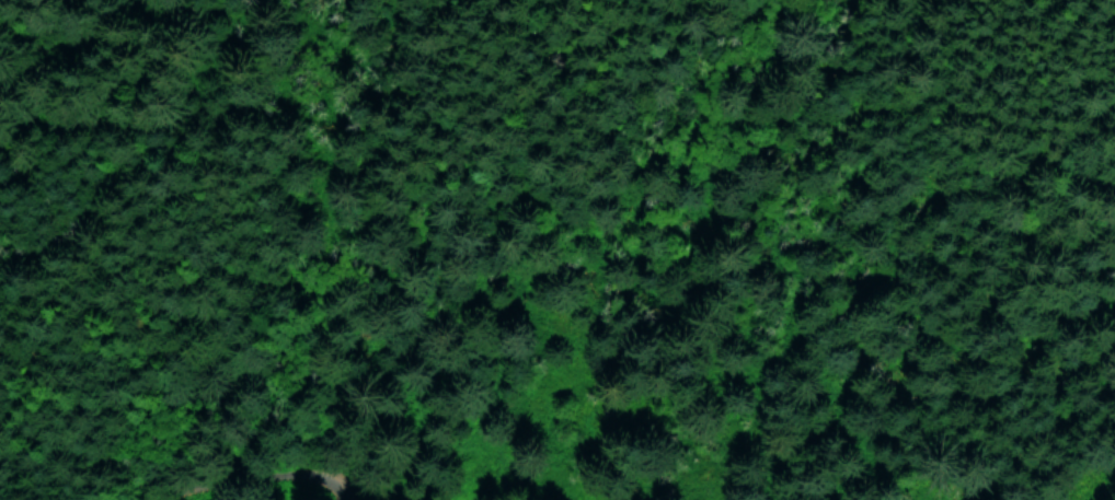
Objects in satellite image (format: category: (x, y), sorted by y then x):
road: (248, 480)

